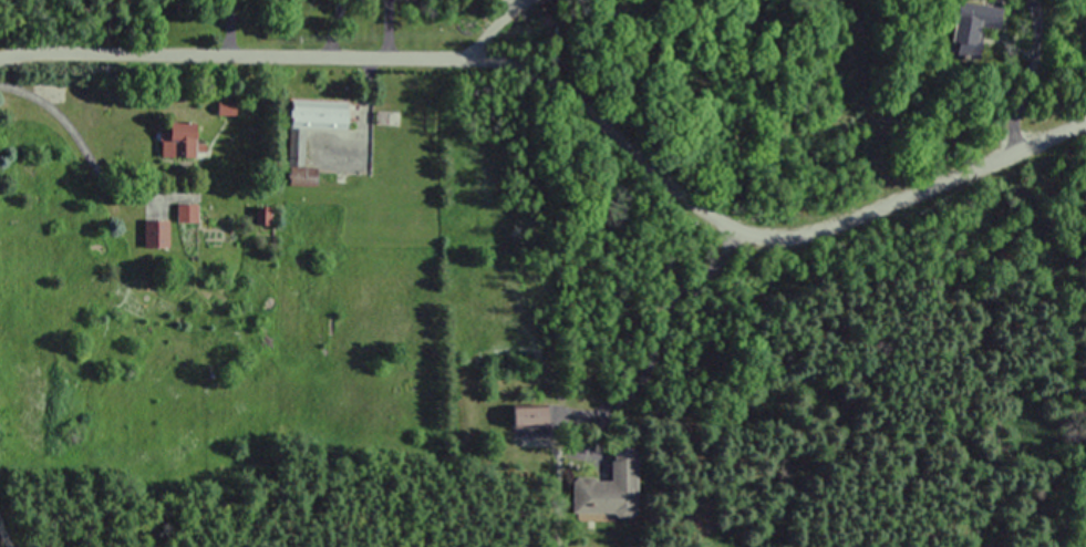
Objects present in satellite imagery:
building: (537, 1)
building: (970, 25)
road: (229, 27)
road: (333, 28)
road: (386, 29)
road: (492, 31)
road: (570, 102)
road: (1014, 105)
building: (310, 115)
building: (173, 141)
road: (83, 148)
building: (294, 149)
building: (296, 178)
building: (184, 214)
building: (153, 235)
road: (660, 326)
building: (523, 419)
building: (607, 488)
road: (7, 533)

